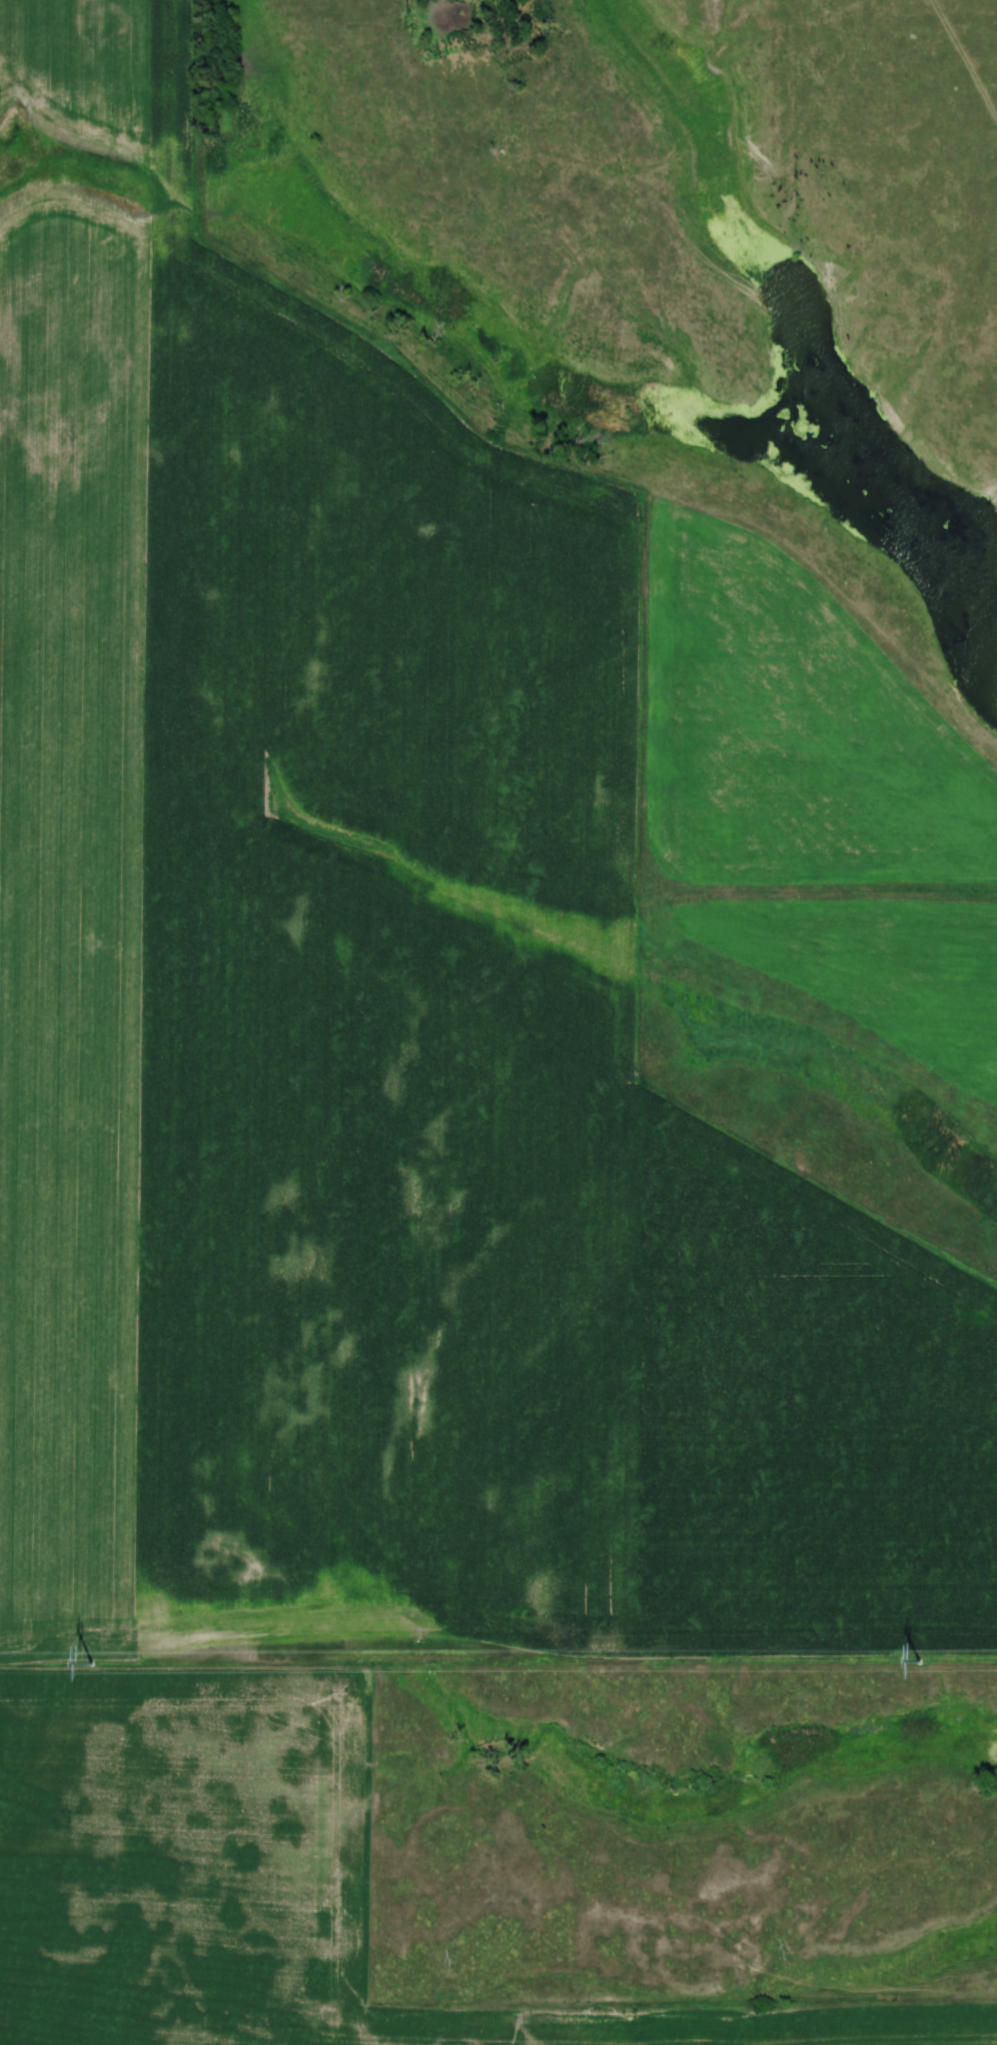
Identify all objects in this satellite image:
power tower: (918, 1661)
power tower: (90, 1662)

